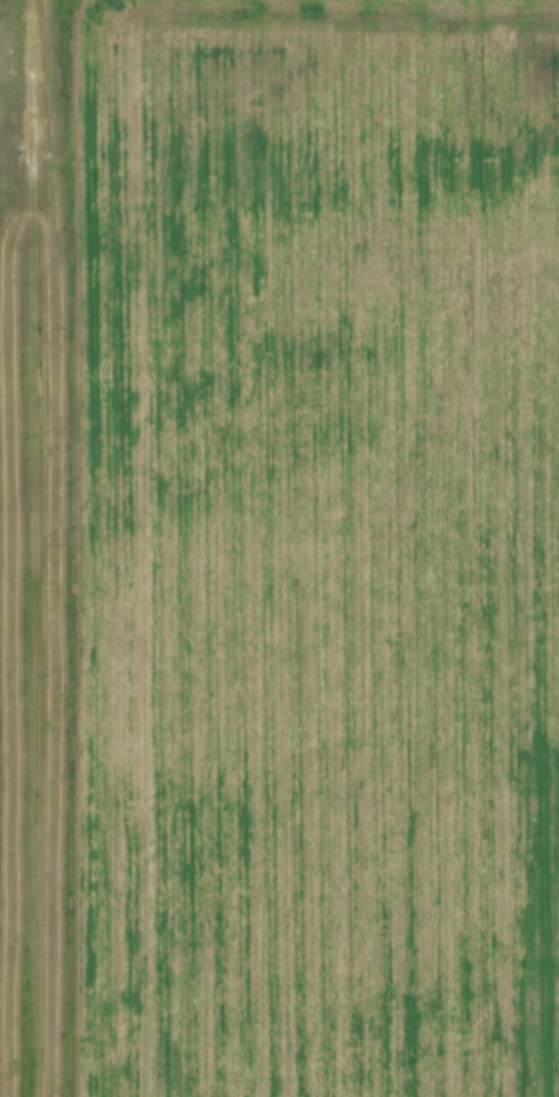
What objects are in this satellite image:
road: (48, 548)

